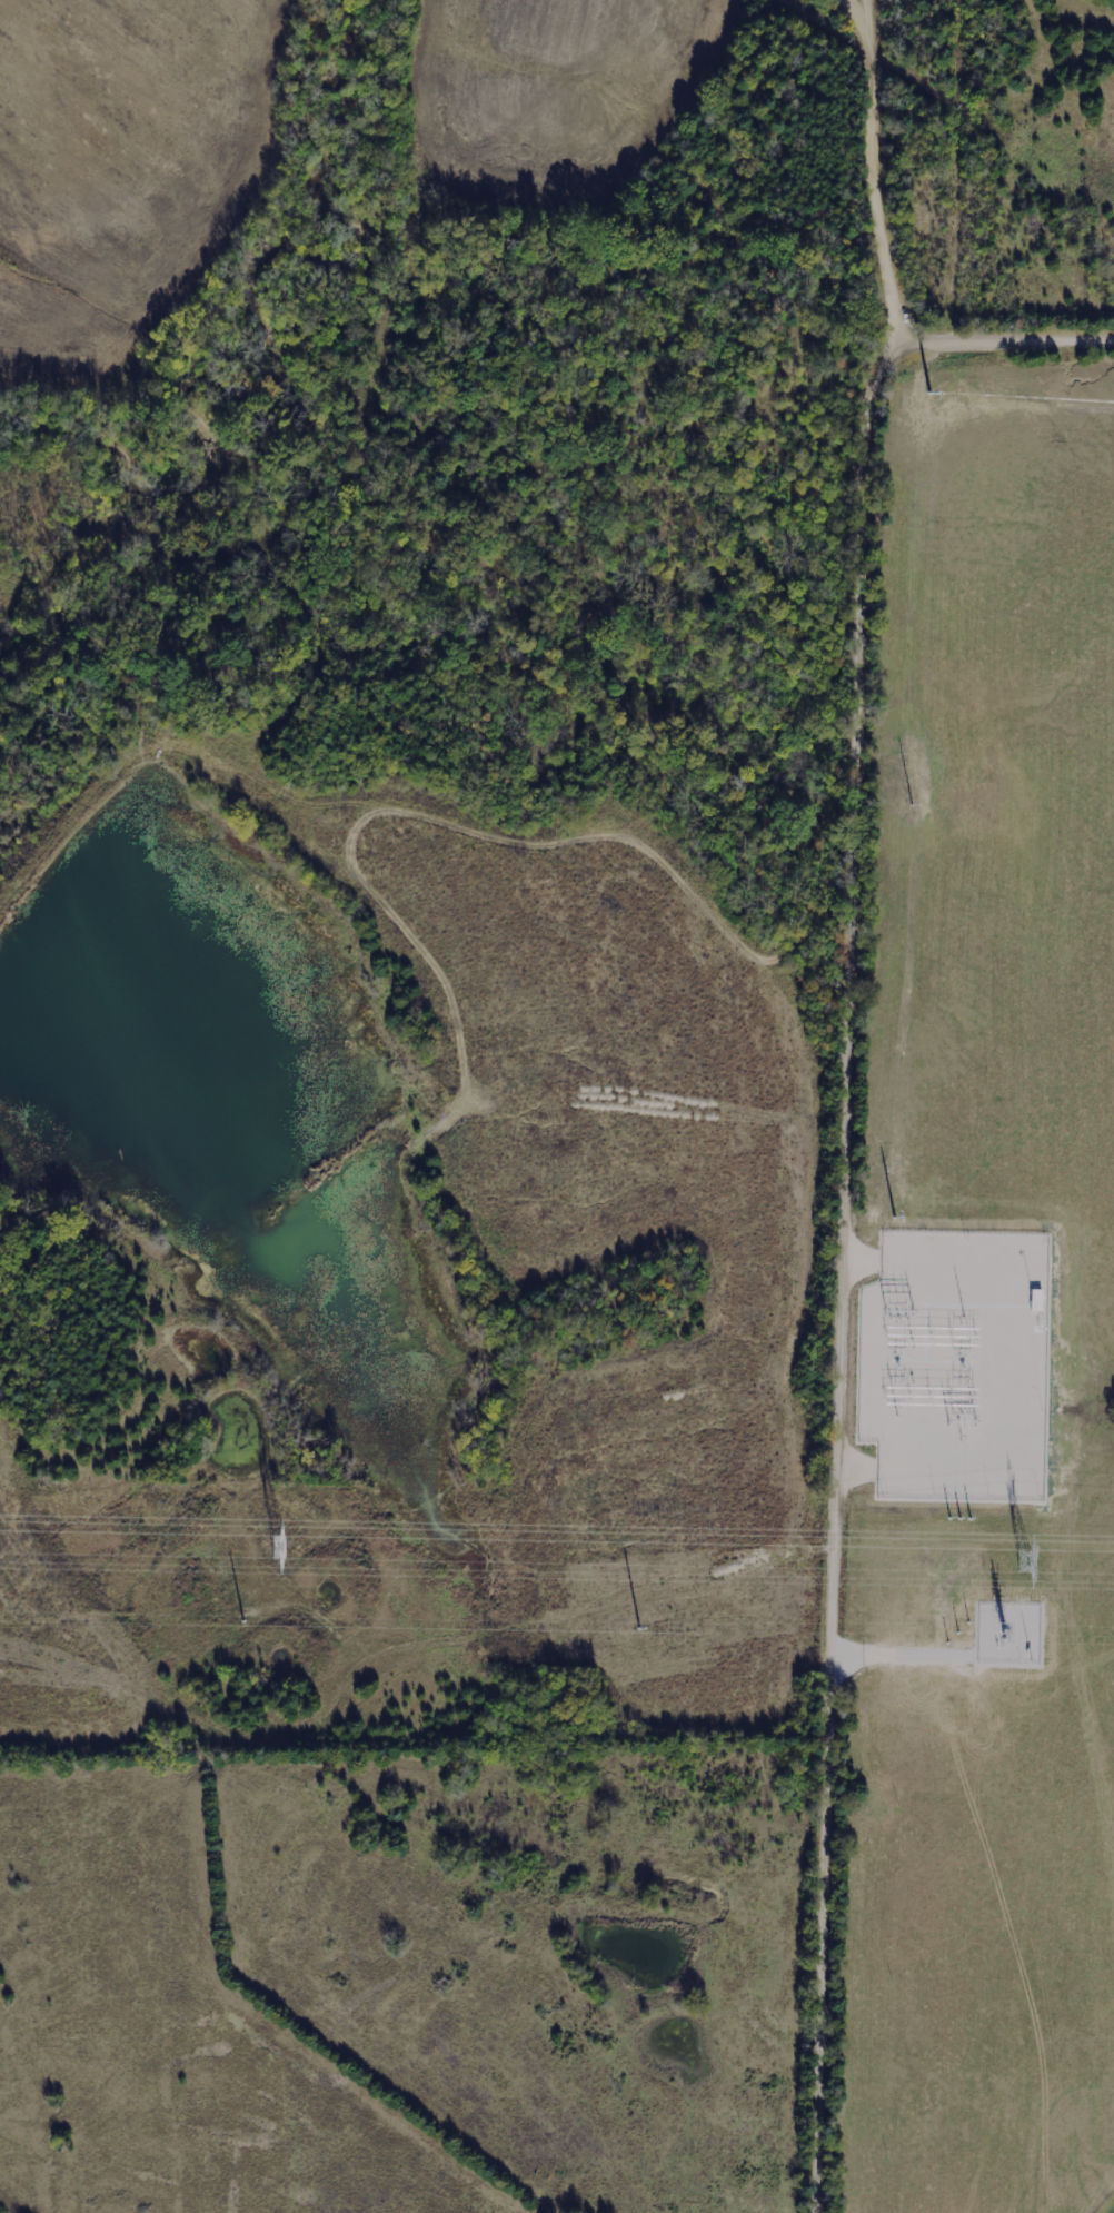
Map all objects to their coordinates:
road: (885, 274)
road: (871, 1273)
power tower: (272, 1547)
power tower: (1023, 1561)

